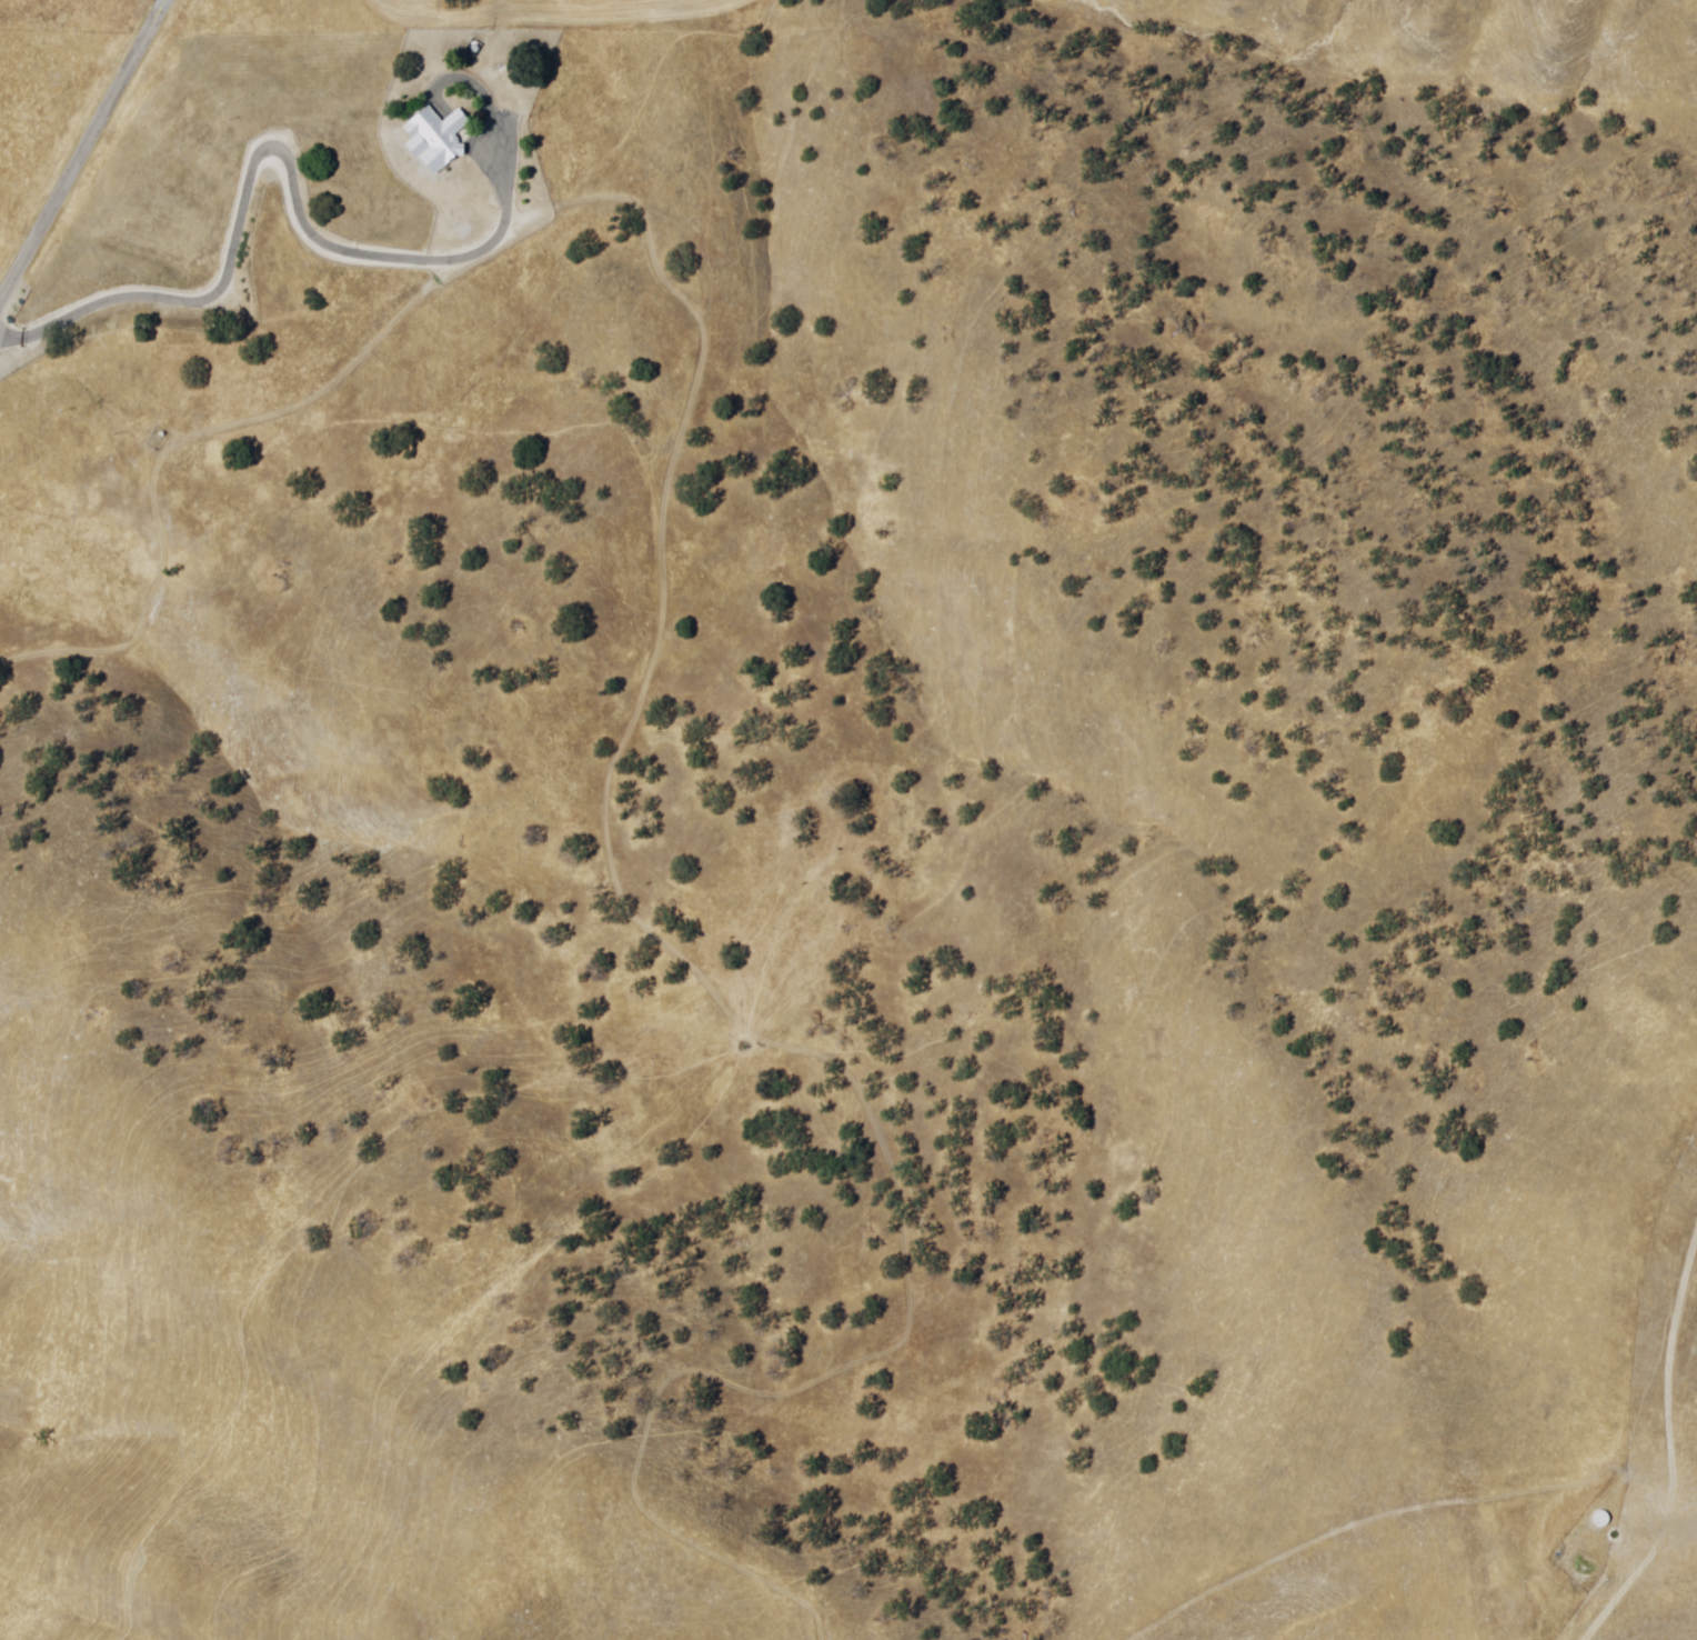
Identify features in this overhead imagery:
road: (154, 29)
building: (446, 131)
road: (491, 162)
road: (68, 181)
road: (299, 209)
road: (1685, 1458)

